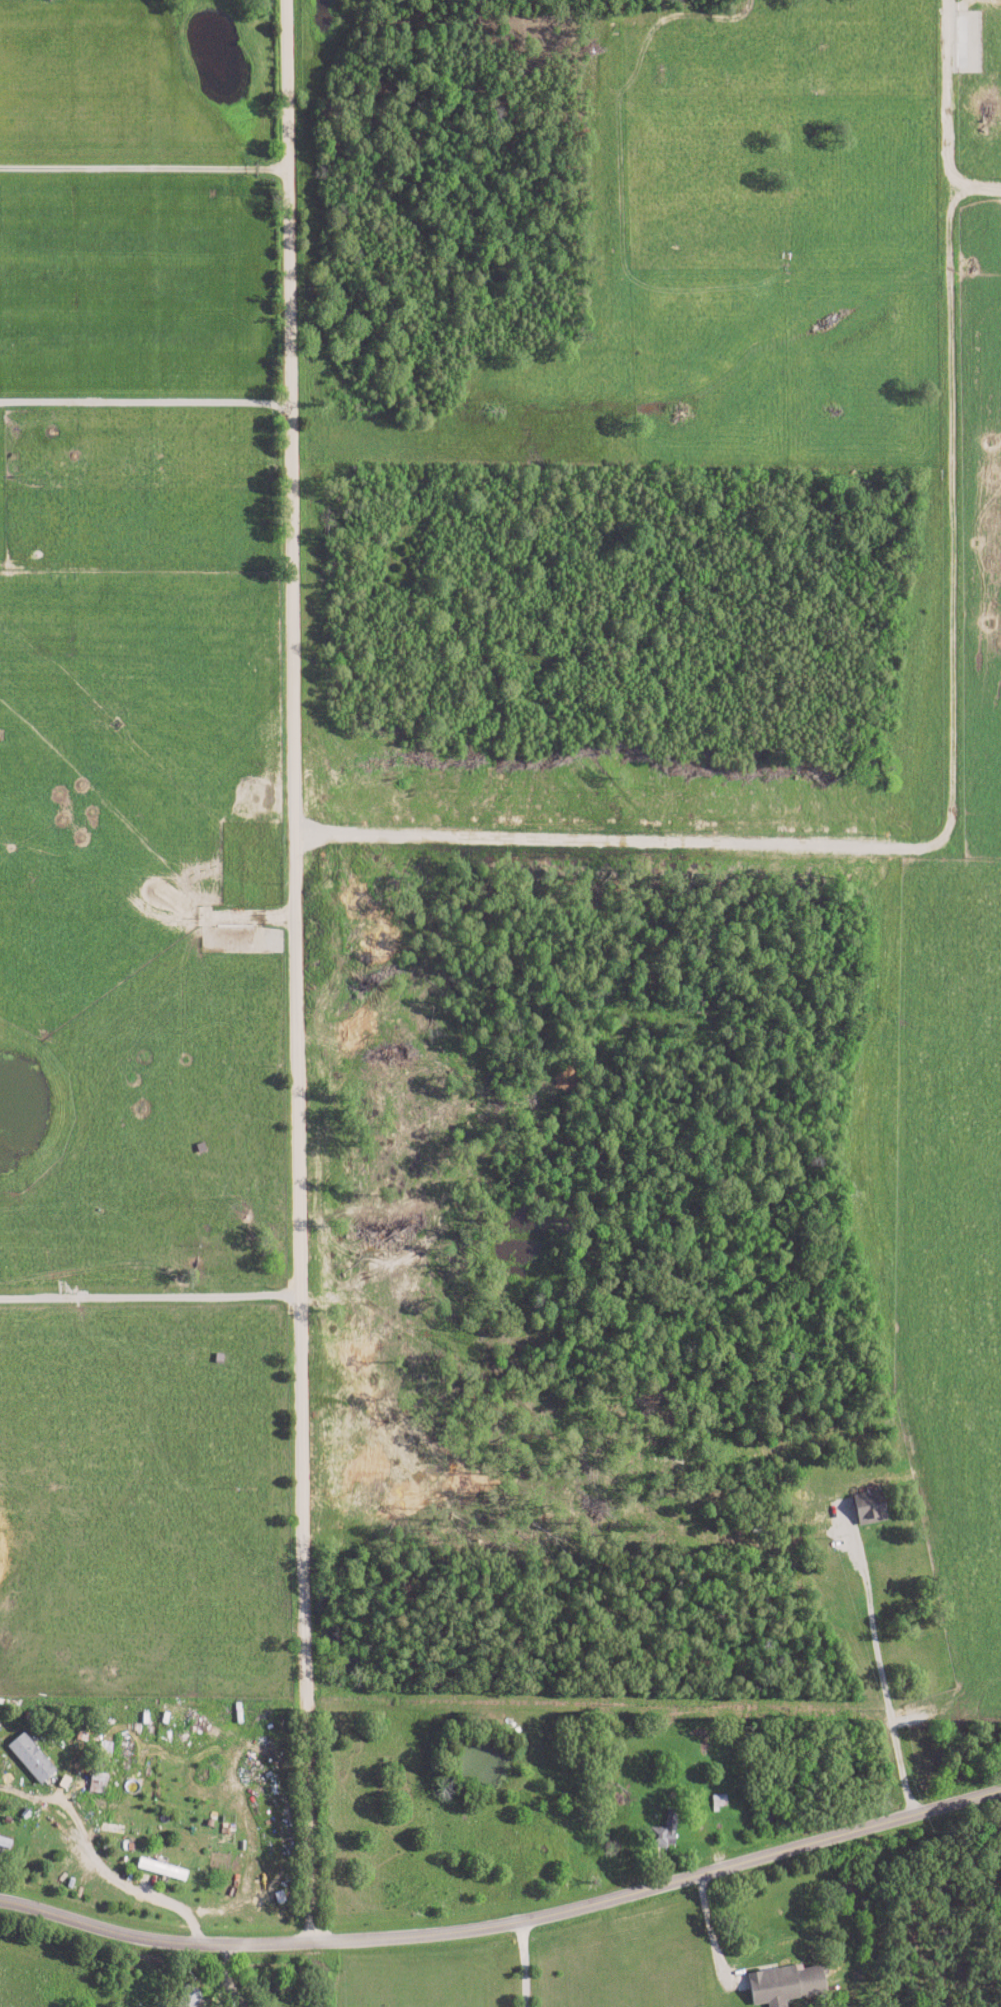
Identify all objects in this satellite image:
road: (146, 169)
road: (145, 404)
crop: (968, 849)
road: (301, 966)
building: (869, 1507)
road: (881, 1666)
road: (598, 1702)
building: (30, 1758)
building: (662, 1835)
building: (5, 1843)
building: (161, 1870)
road: (137, 1879)
road: (506, 1926)
road: (716, 1937)
road: (527, 1965)
building: (784, 1985)

